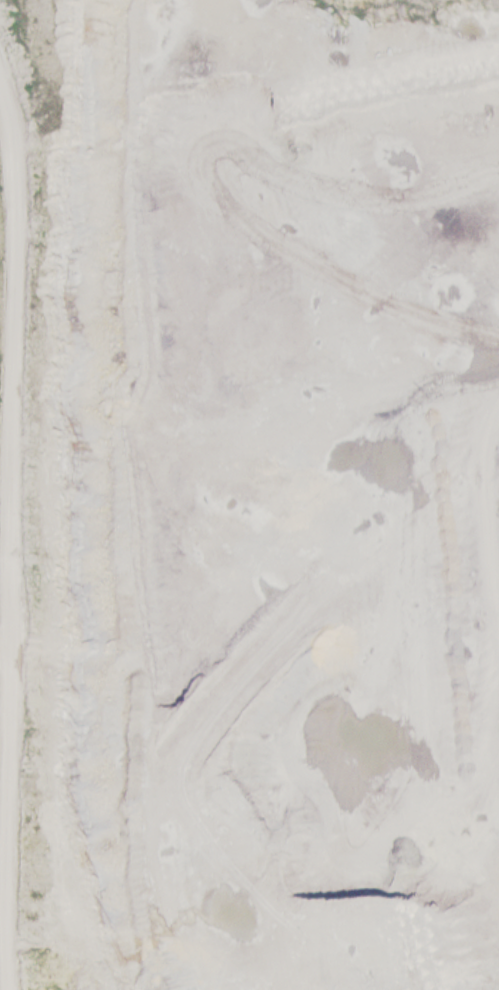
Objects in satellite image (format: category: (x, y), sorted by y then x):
quarry: (249, 495)

